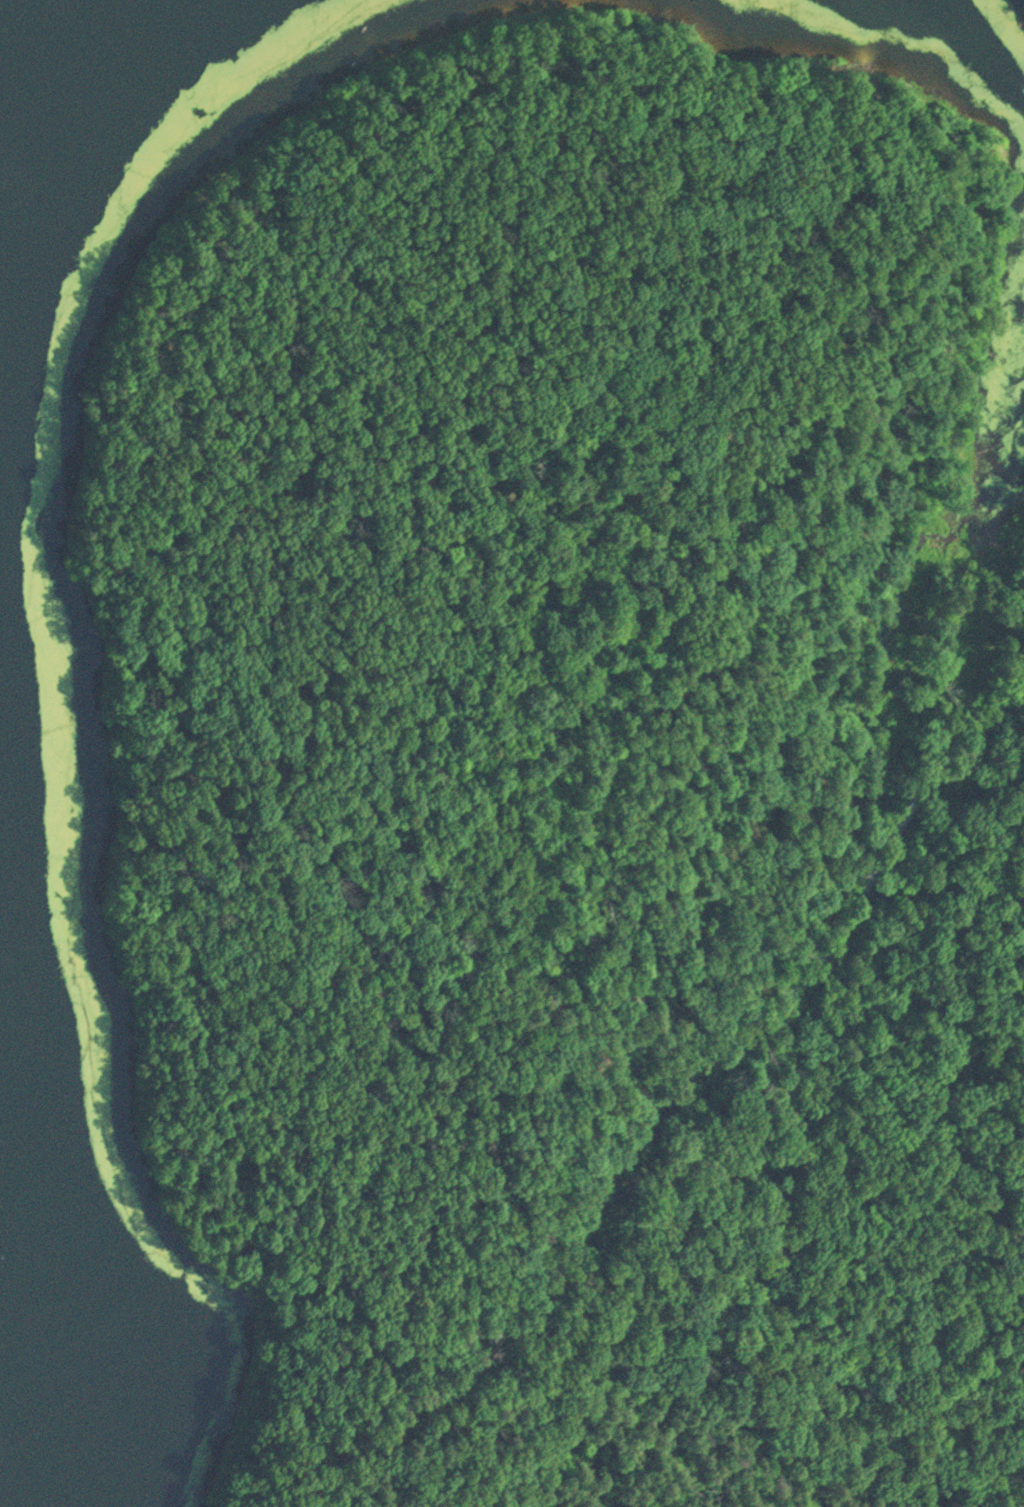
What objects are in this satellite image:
road: (675, 1095)

